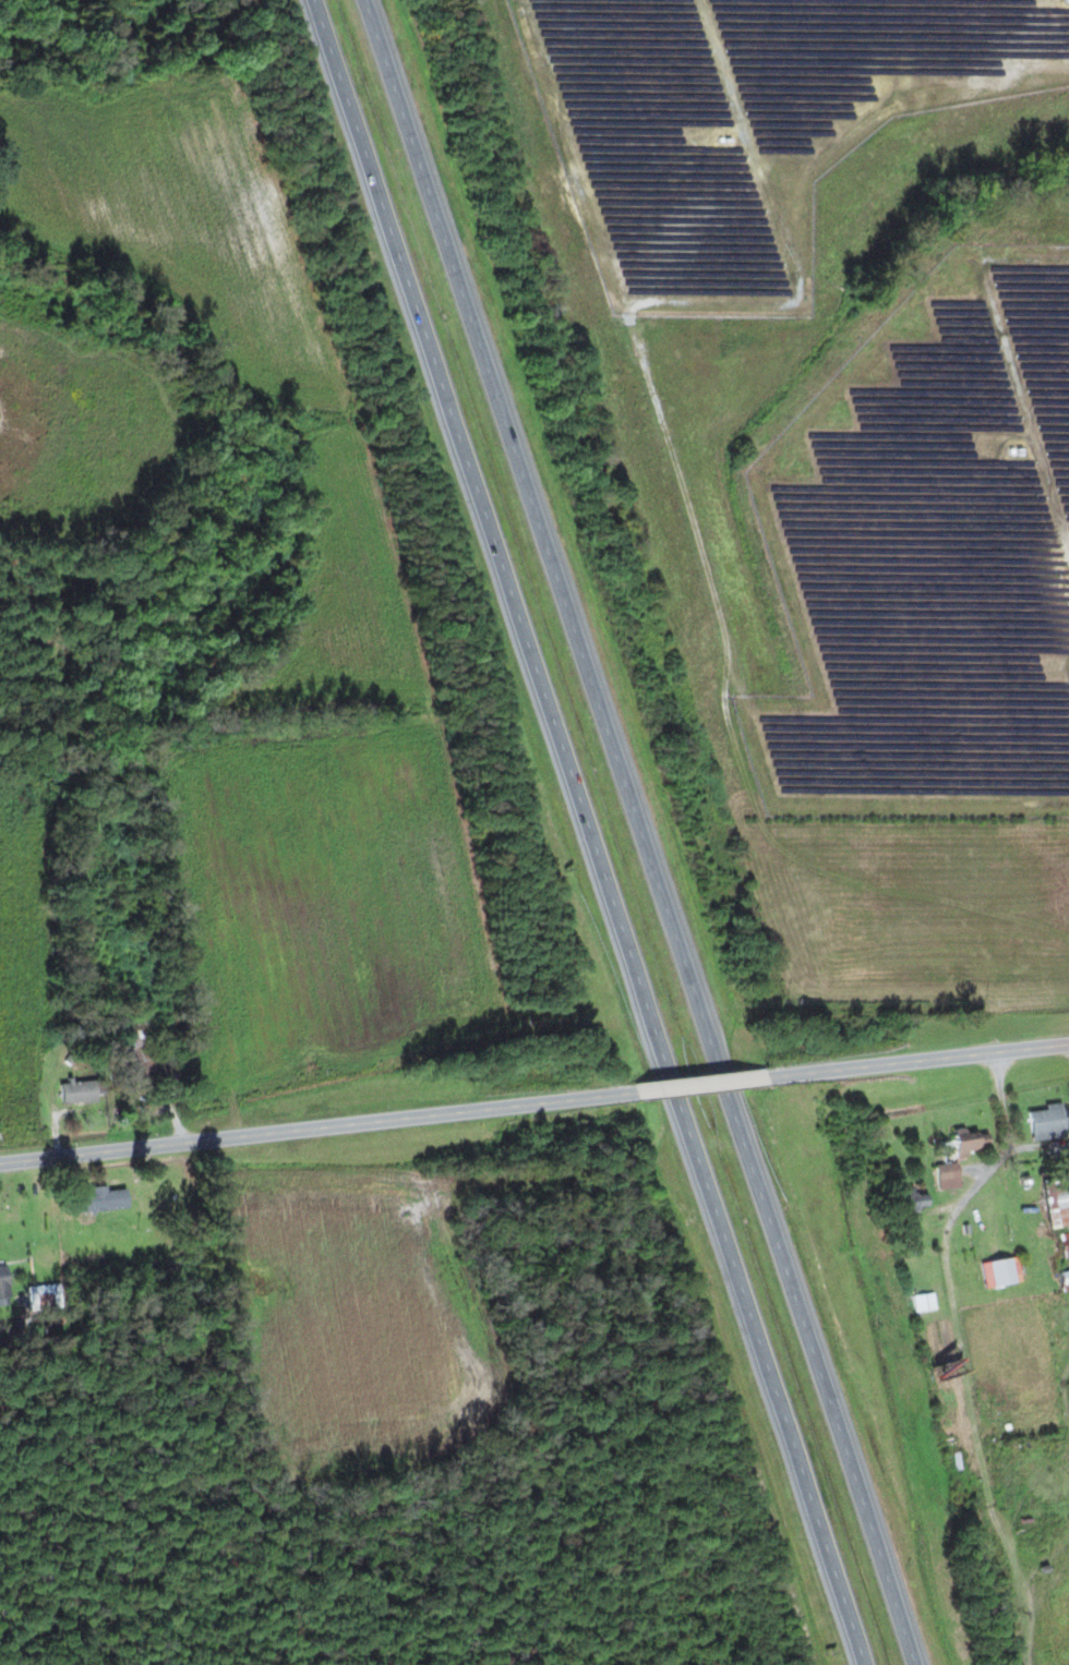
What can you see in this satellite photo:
solar farm: (748, 122)
solar farm: (927, 557)
road: (642, 831)
road: (592, 832)
road: (926, 1061)
building: (135, 1072)
road: (704, 1088)
building: (75, 1093)
building: (1047, 1122)
road: (312, 1131)
building: (966, 1142)
building: (946, 1175)
building: (96, 1201)
building: (910, 1202)
building: (1056, 1206)
building: (1064, 1244)
building: (999, 1271)
building: (1064, 1280)
building: (2, 1290)
building: (43, 1296)
building: (922, 1302)

